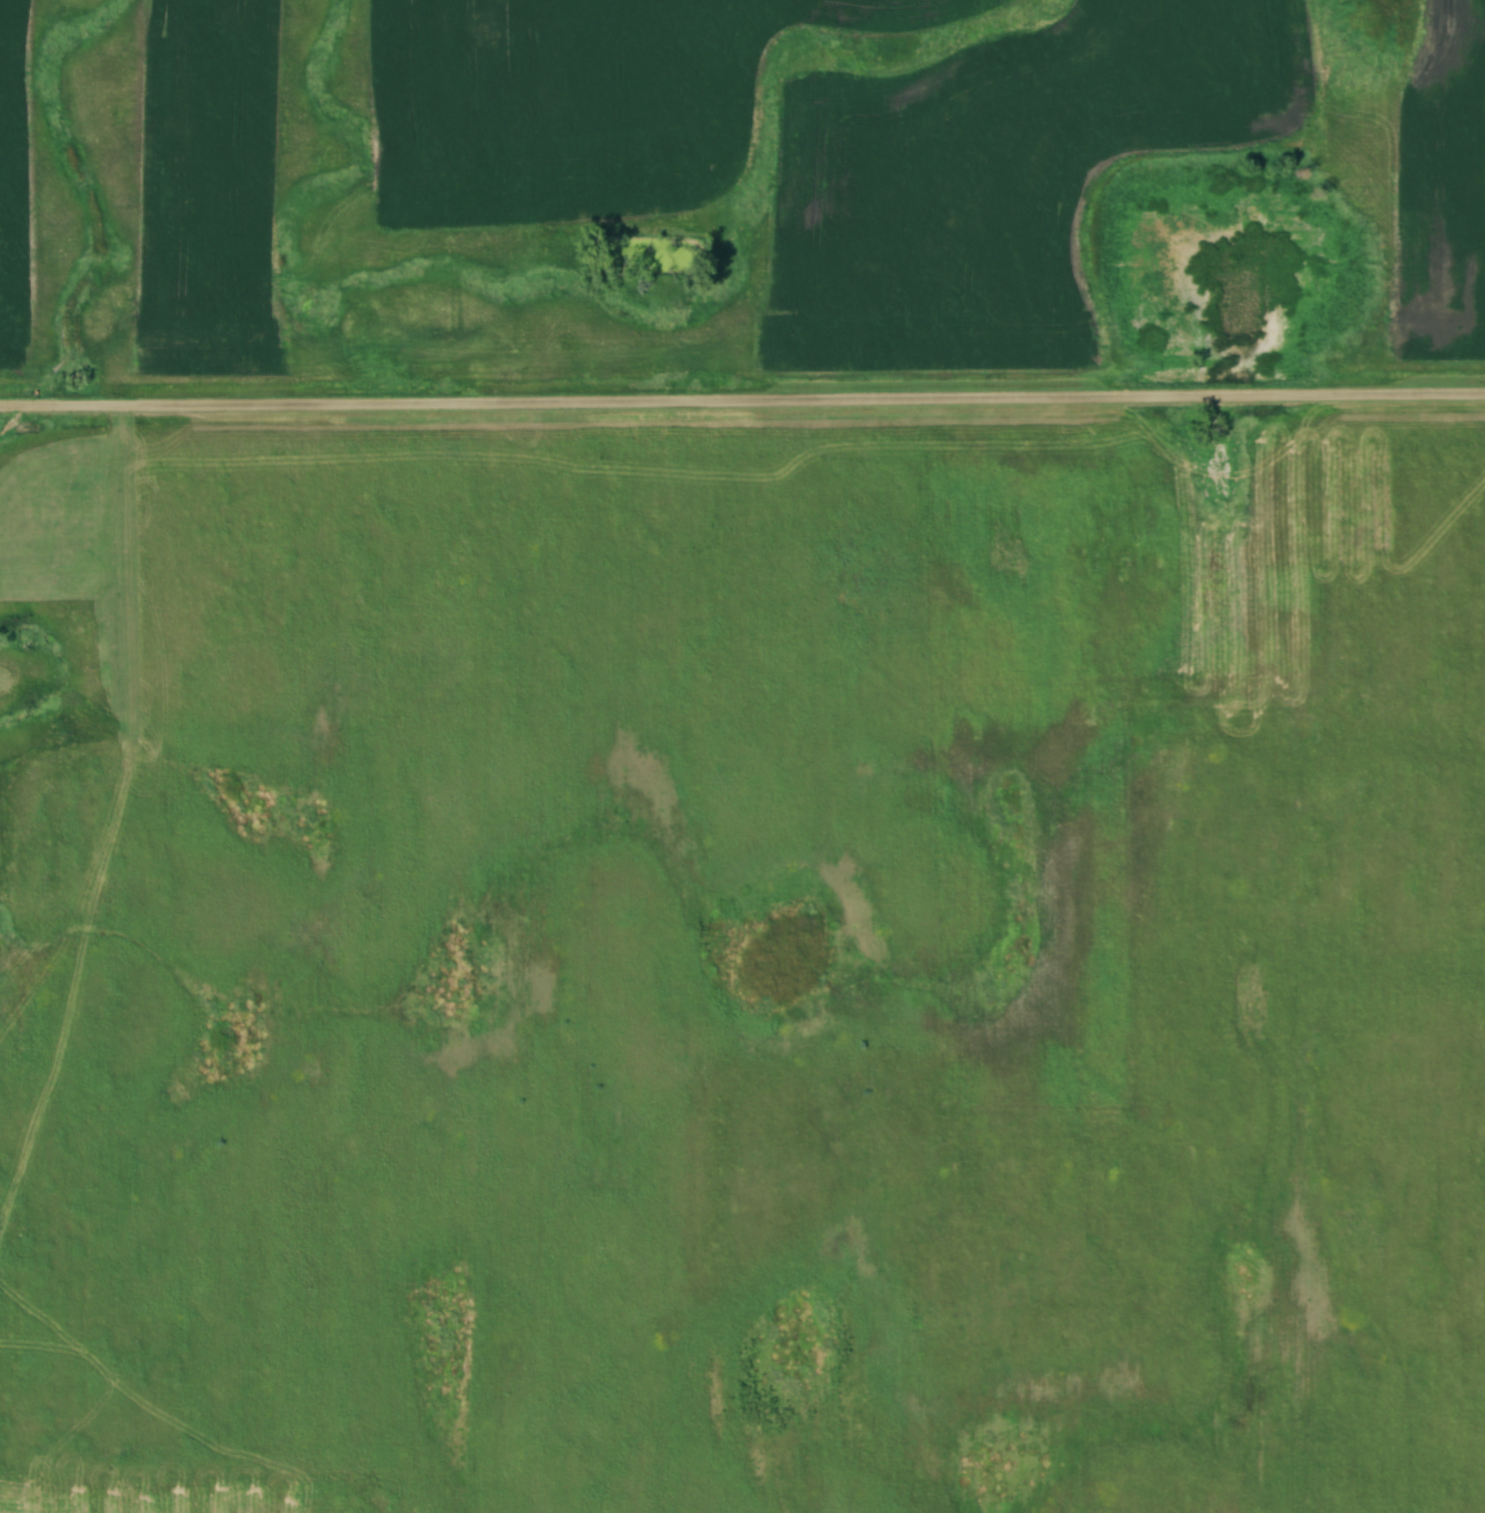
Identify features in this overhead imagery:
road: (742, 395)

